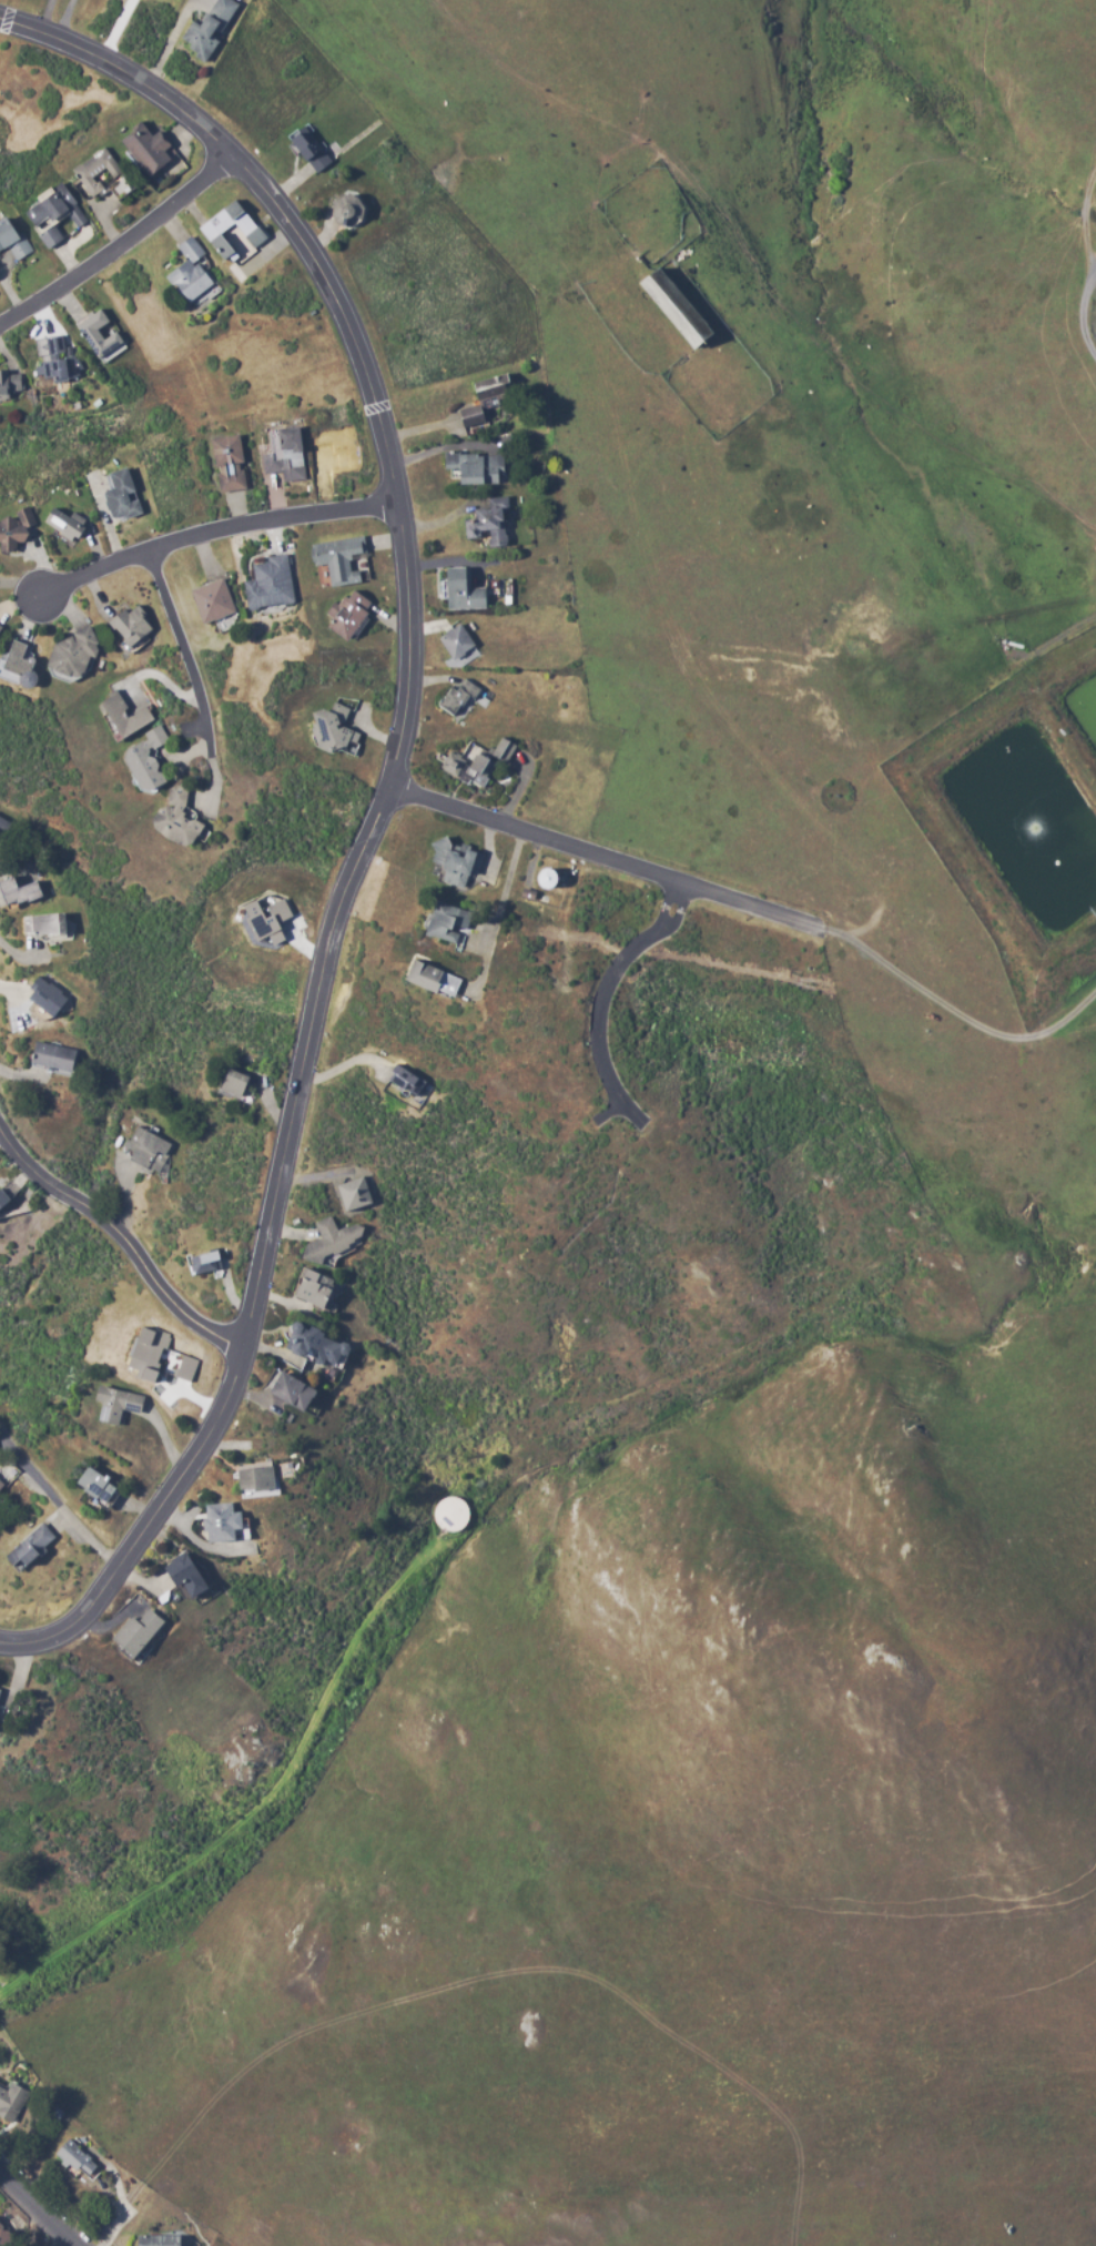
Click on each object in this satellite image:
road: (47, 17)
road: (67, 20)
building: (211, 27)
building: (149, 150)
building: (309, 150)
building: (93, 172)
building: (352, 209)
building: (53, 215)
building: (234, 232)
building: (11, 240)
road: (121, 246)
road: (1092, 263)
building: (191, 275)
building: (99, 333)
building: (57, 362)
building: (10, 384)
building: (488, 399)
building: (286, 455)
building: (230, 464)
building: (122, 495)
building: (490, 523)
building: (14, 530)
road: (214, 530)
building: (338, 559)
building: (270, 584)
building: (465, 591)
building: (213, 600)
building: (348, 615)
building: (0, 626)
building: (133, 627)
building: (456, 643)
road: (184, 652)
building: (73, 654)
building: (458, 699)
building: (125, 706)
building: (334, 729)
road: (193, 730)
building: (145, 759)
road: (382, 803)
building: (176, 819)
building: (1, 826)
road: (605, 858)
building: (456, 862)
building: (545, 881)
building: (13, 892)
road: (663, 909)
road: (678, 918)
building: (268, 920)
building: (449, 923)
building: (43, 925)
building: (434, 980)
building: (47, 995)
road: (957, 1012)
road: (597, 1028)
building: (53, 1056)
road: (607, 1113)
building: (146, 1149)
building: (356, 1193)
building: (3, 1200)
road: (123, 1238)
building: (332, 1238)
building: (206, 1262)
building: (315, 1288)
building: (313, 1344)
building: (150, 1354)
building: (184, 1368)
building: (295, 1390)
building: (116, 1404)
building: (256, 1478)
building: (0, 1486)
building: (99, 1486)
building: (449, 1515)
building: (222, 1522)
building: (33, 1546)
building: (187, 1575)
building: (138, 1632)
building: (2, 1698)
road: (257, 1804)
building: (10, 2098)
building: (79, 2161)
road: (37, 2207)
building: (160, 2240)

